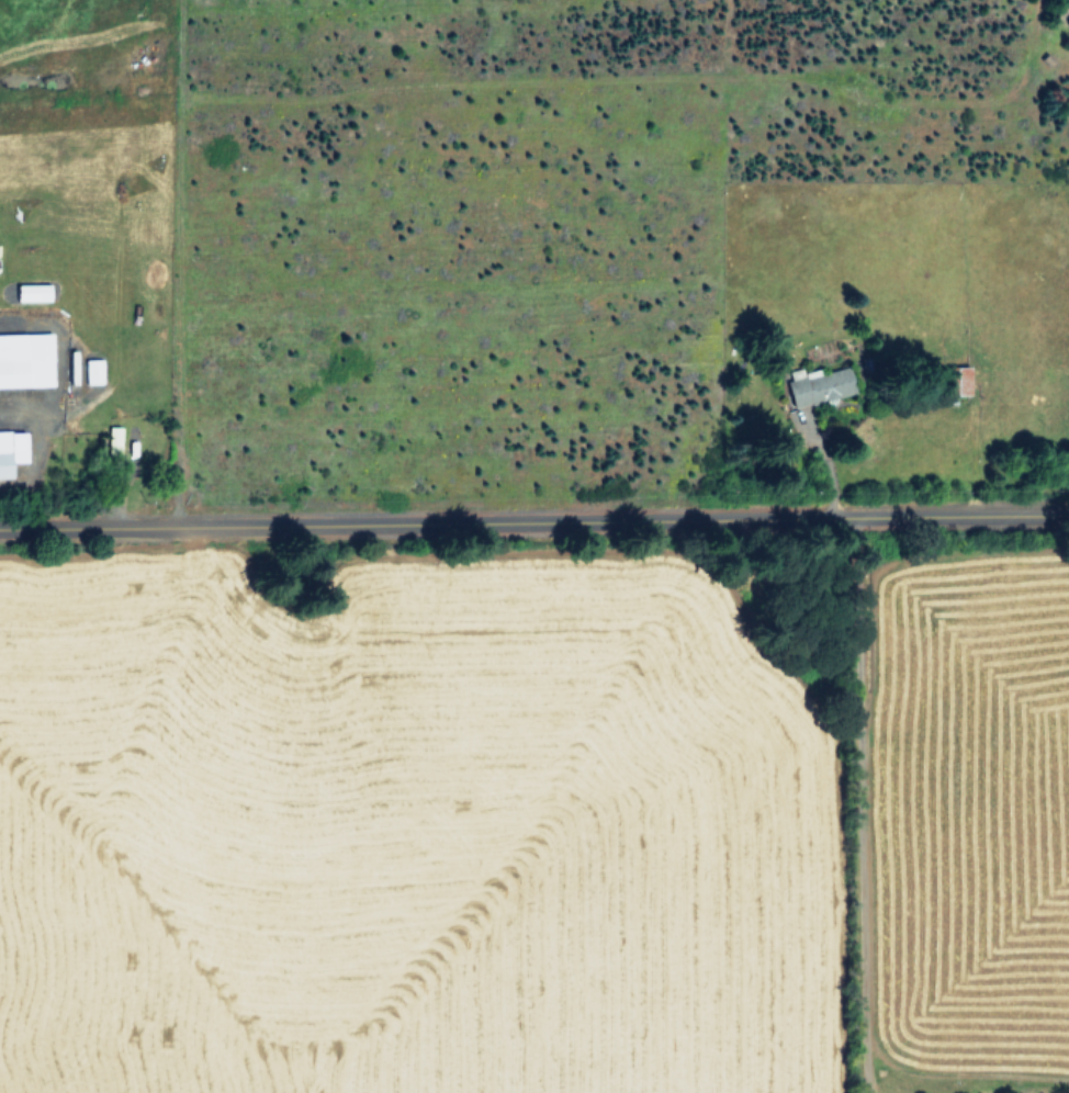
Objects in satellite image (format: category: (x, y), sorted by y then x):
building: (32, 292)
building: (24, 359)
building: (92, 371)
building: (819, 385)
road: (34, 448)
building: (11, 450)
road: (534, 517)
crop: (534, 546)
road: (866, 804)

